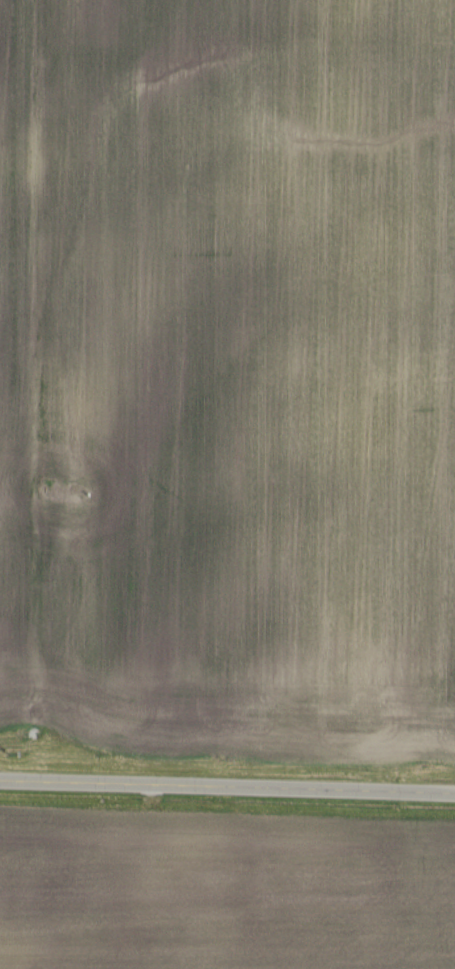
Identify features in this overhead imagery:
road: (227, 787)

